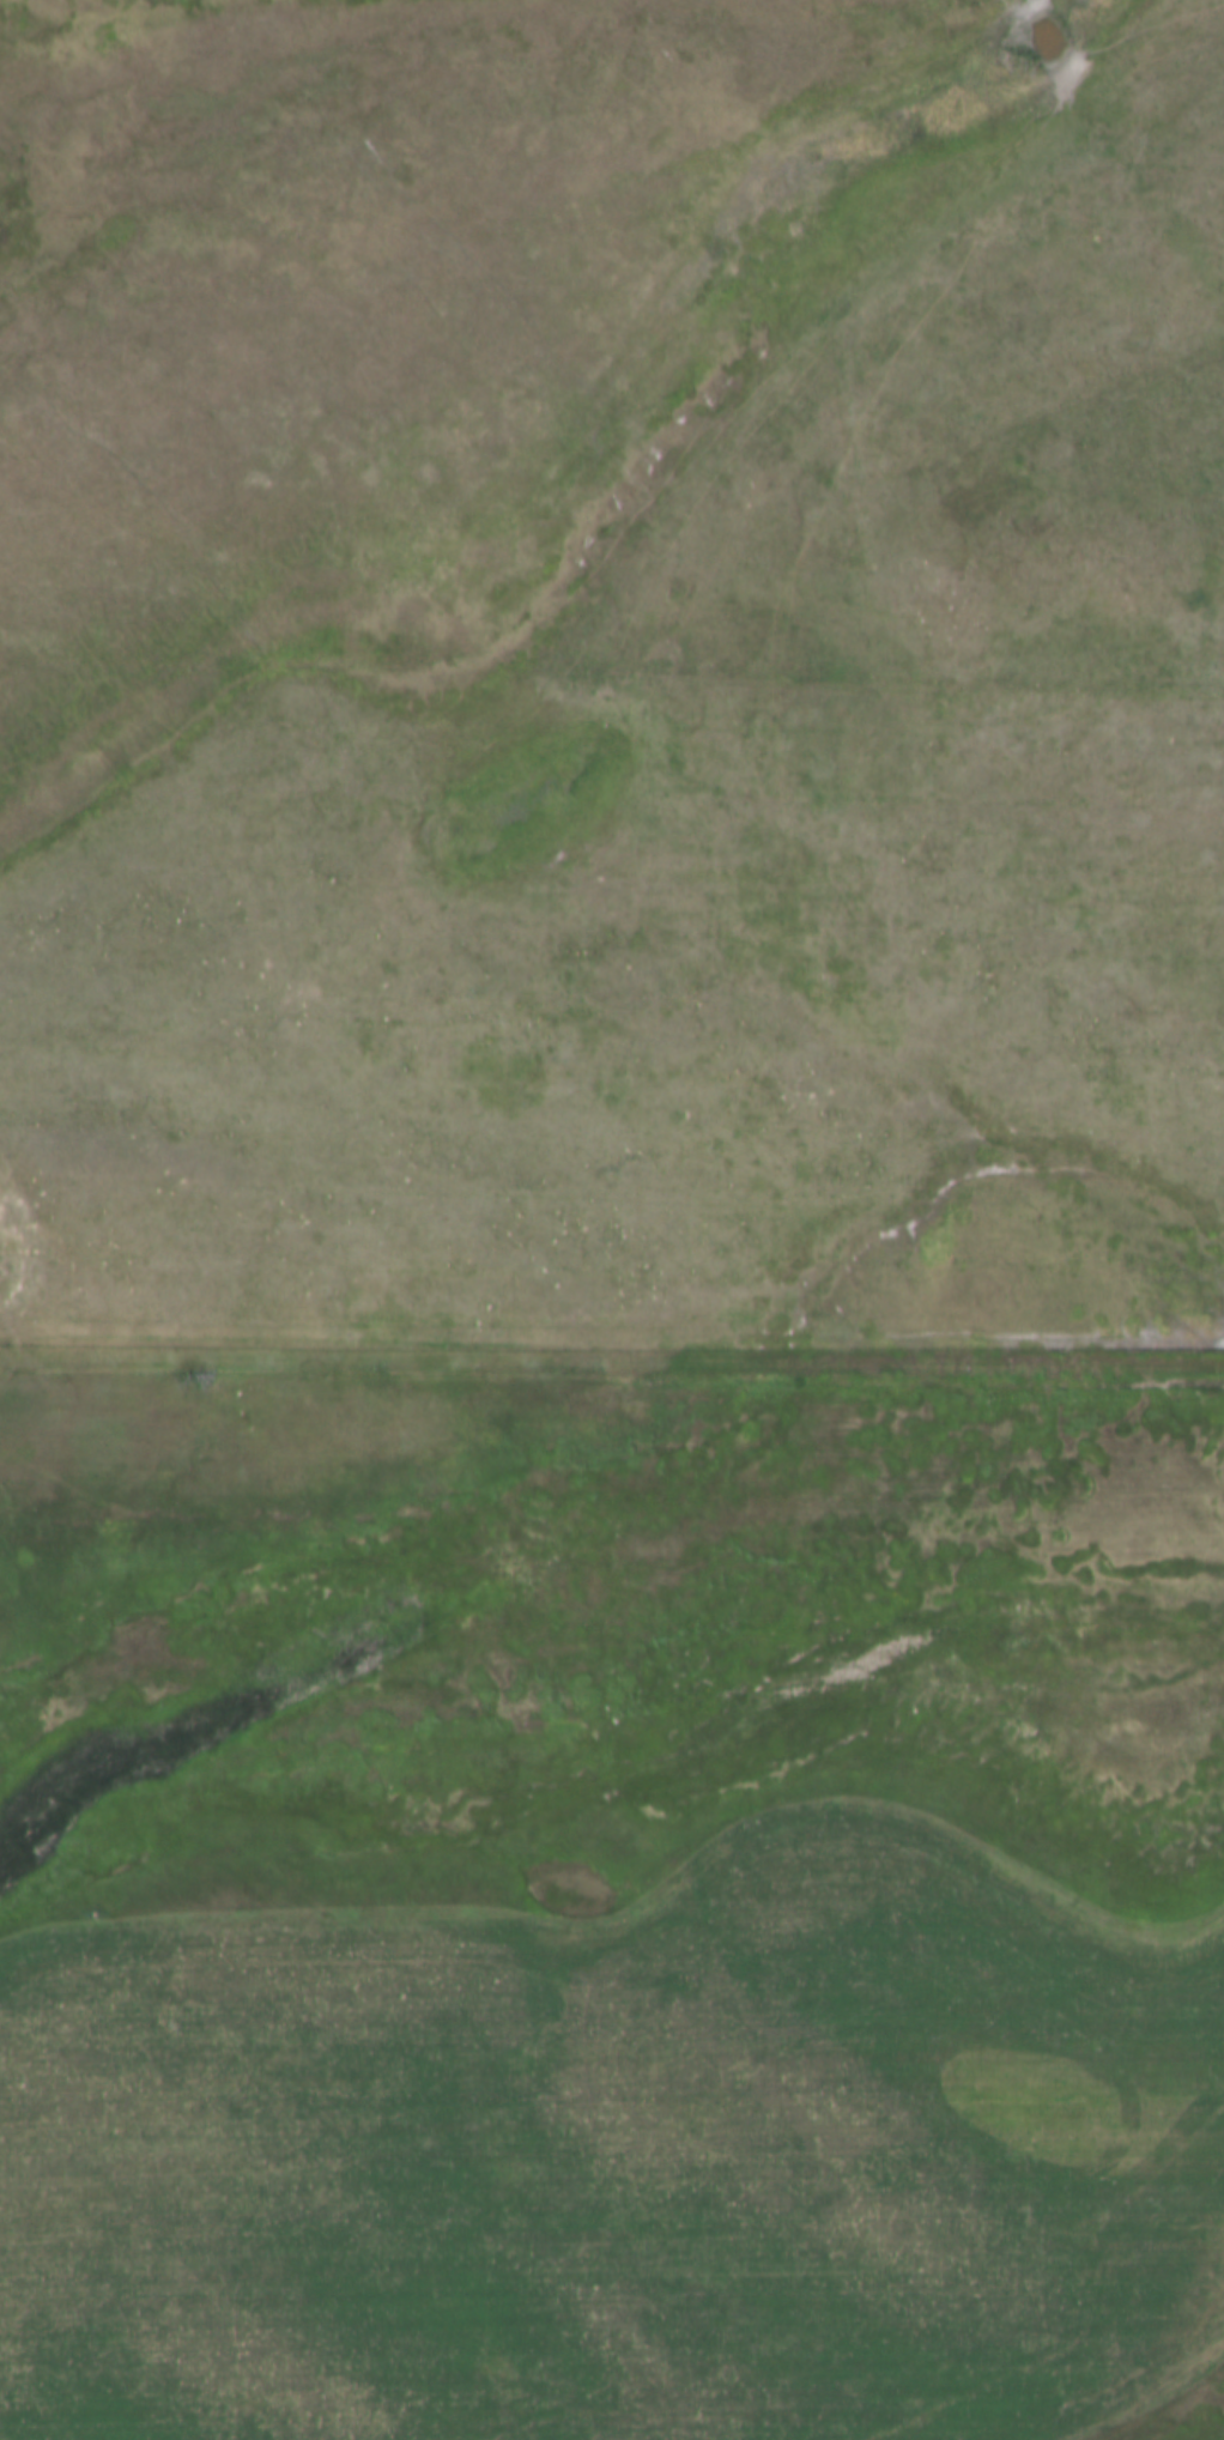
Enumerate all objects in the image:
road: (611, 1355)

